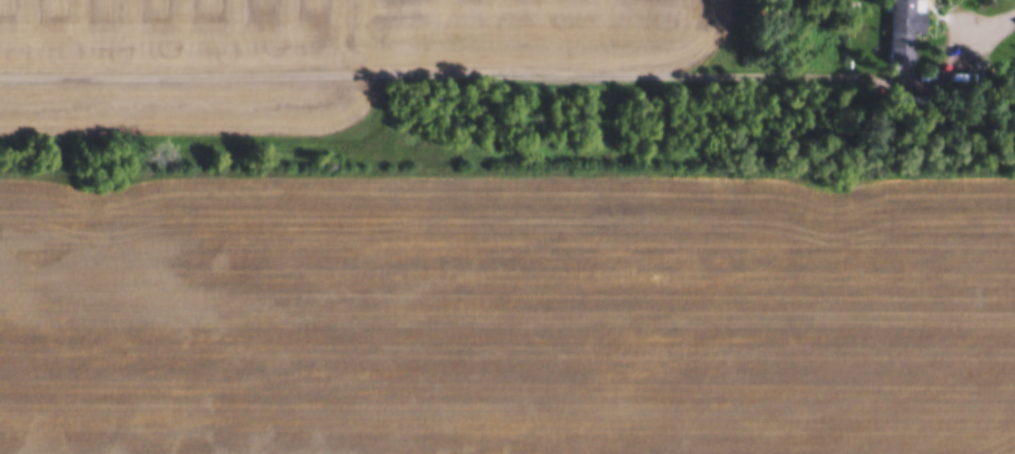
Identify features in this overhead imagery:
building: (905, 32)
road: (992, 35)
road: (488, 70)

